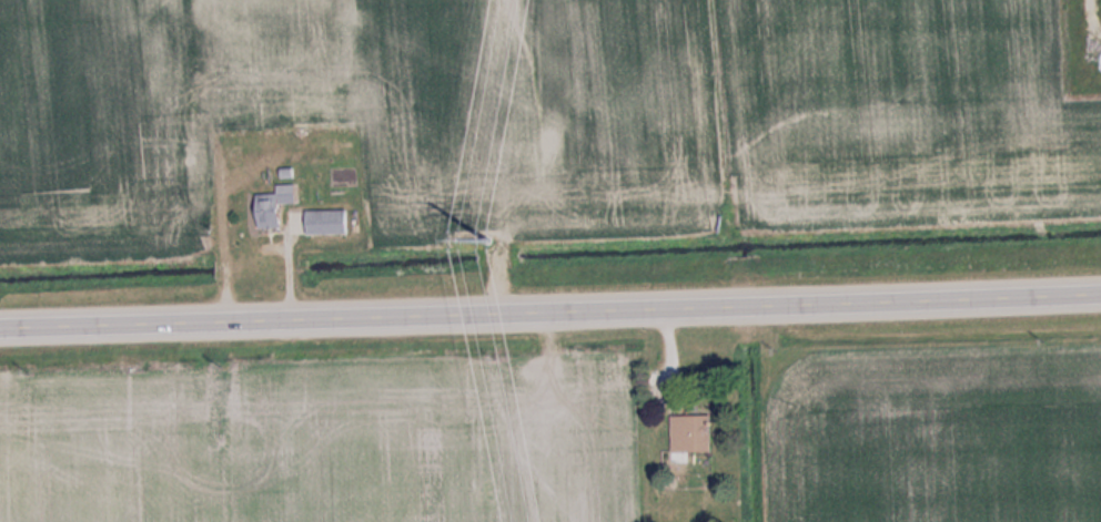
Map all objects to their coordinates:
building: (289, 104)
building: (203, 170)
building: (281, 207)
power tower: (478, 215)
building: (333, 222)
road: (550, 307)
building: (700, 434)

